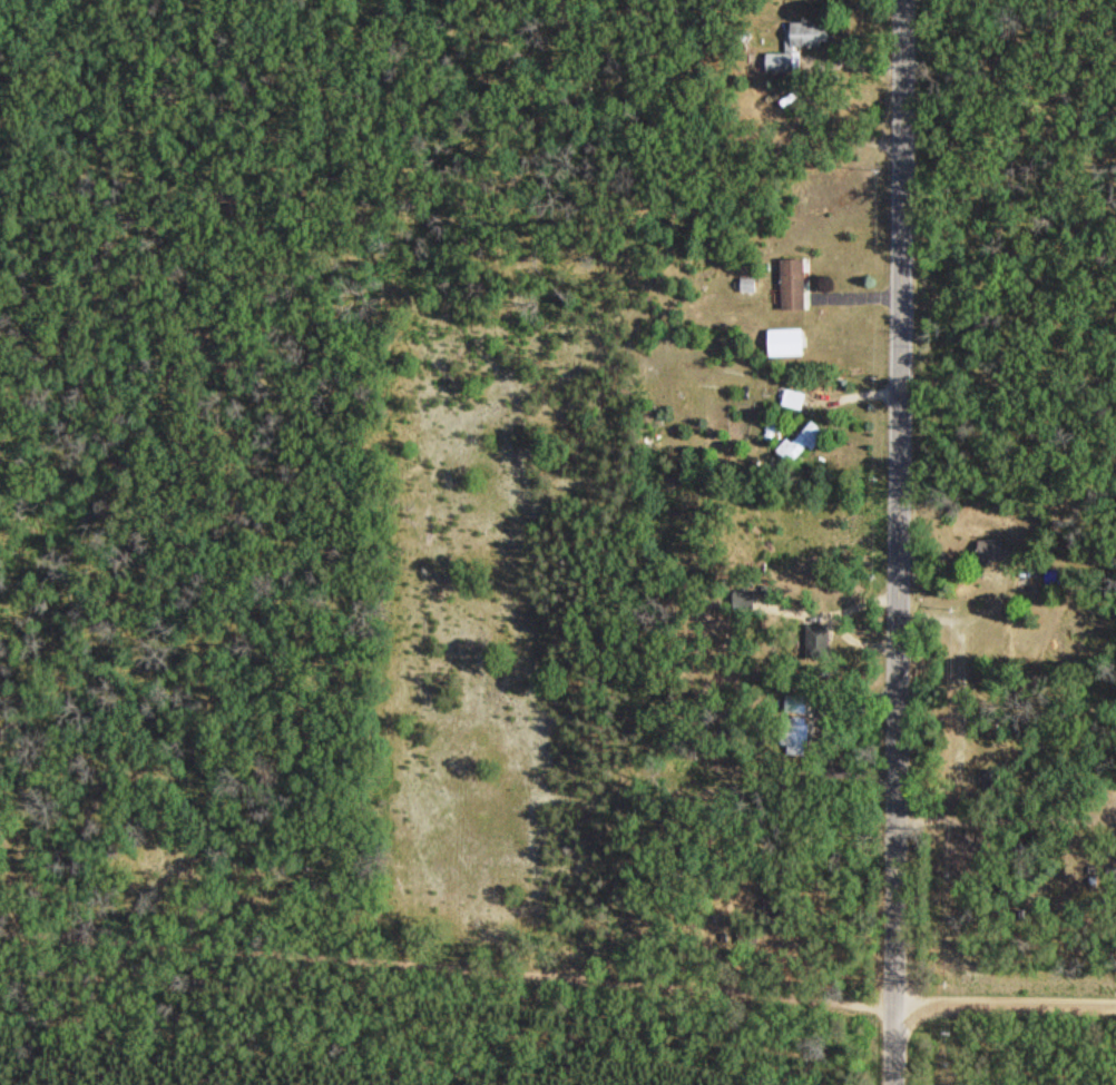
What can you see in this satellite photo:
building: (793, 45)
building: (789, 283)
building: (785, 341)
building: (792, 398)
building: (772, 426)
building: (801, 440)
road: (900, 502)
building: (989, 549)
building: (741, 603)
building: (790, 730)
road: (557, 975)
road: (895, 1044)

